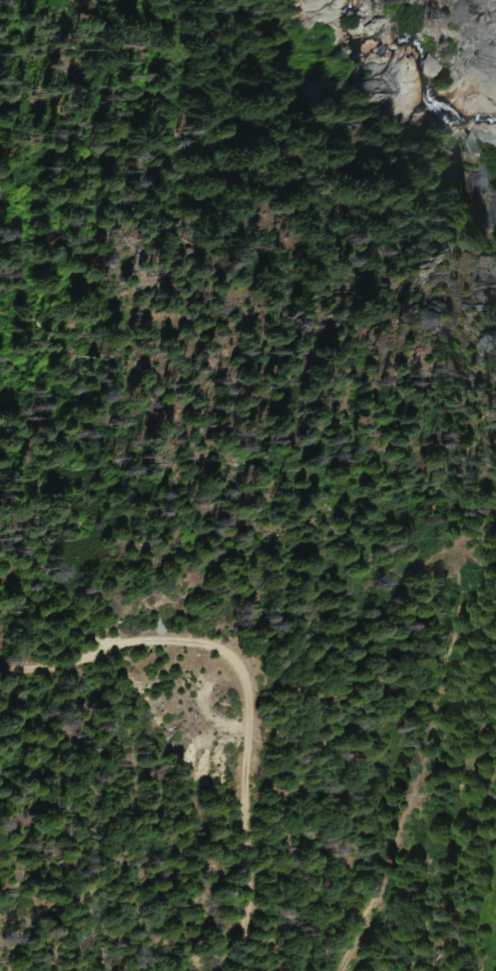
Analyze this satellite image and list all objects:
road: (250, 695)

